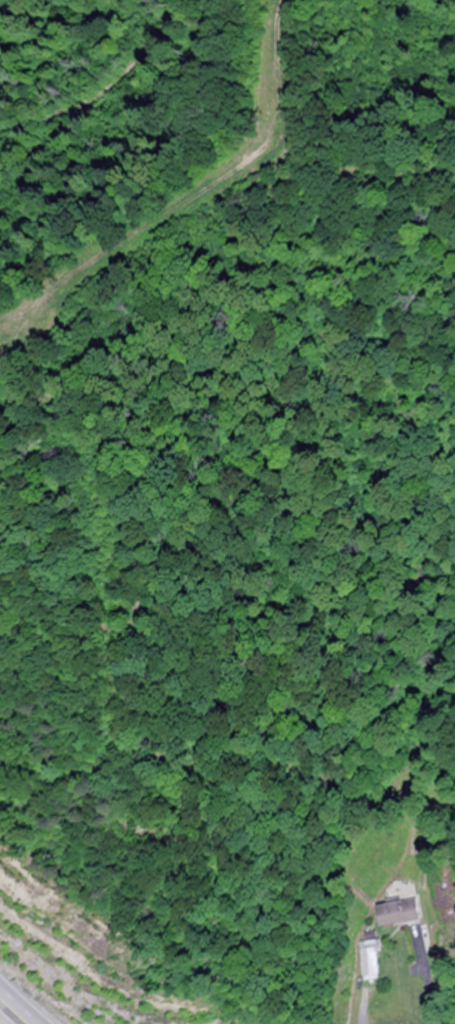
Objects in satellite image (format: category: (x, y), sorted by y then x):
building: (399, 913)
building: (371, 961)
road: (16, 1009)

